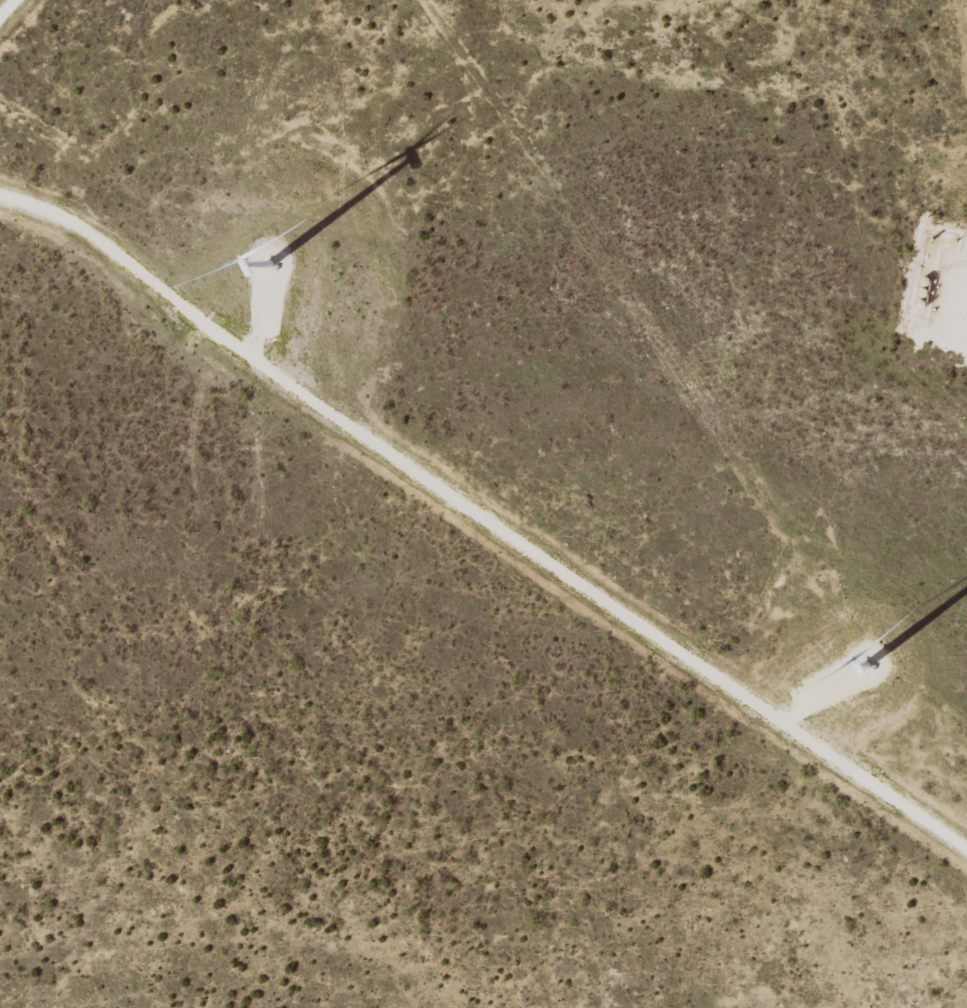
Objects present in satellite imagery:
road: (945, 58)
wind turbine: (269, 266)
wind turbine: (866, 666)

